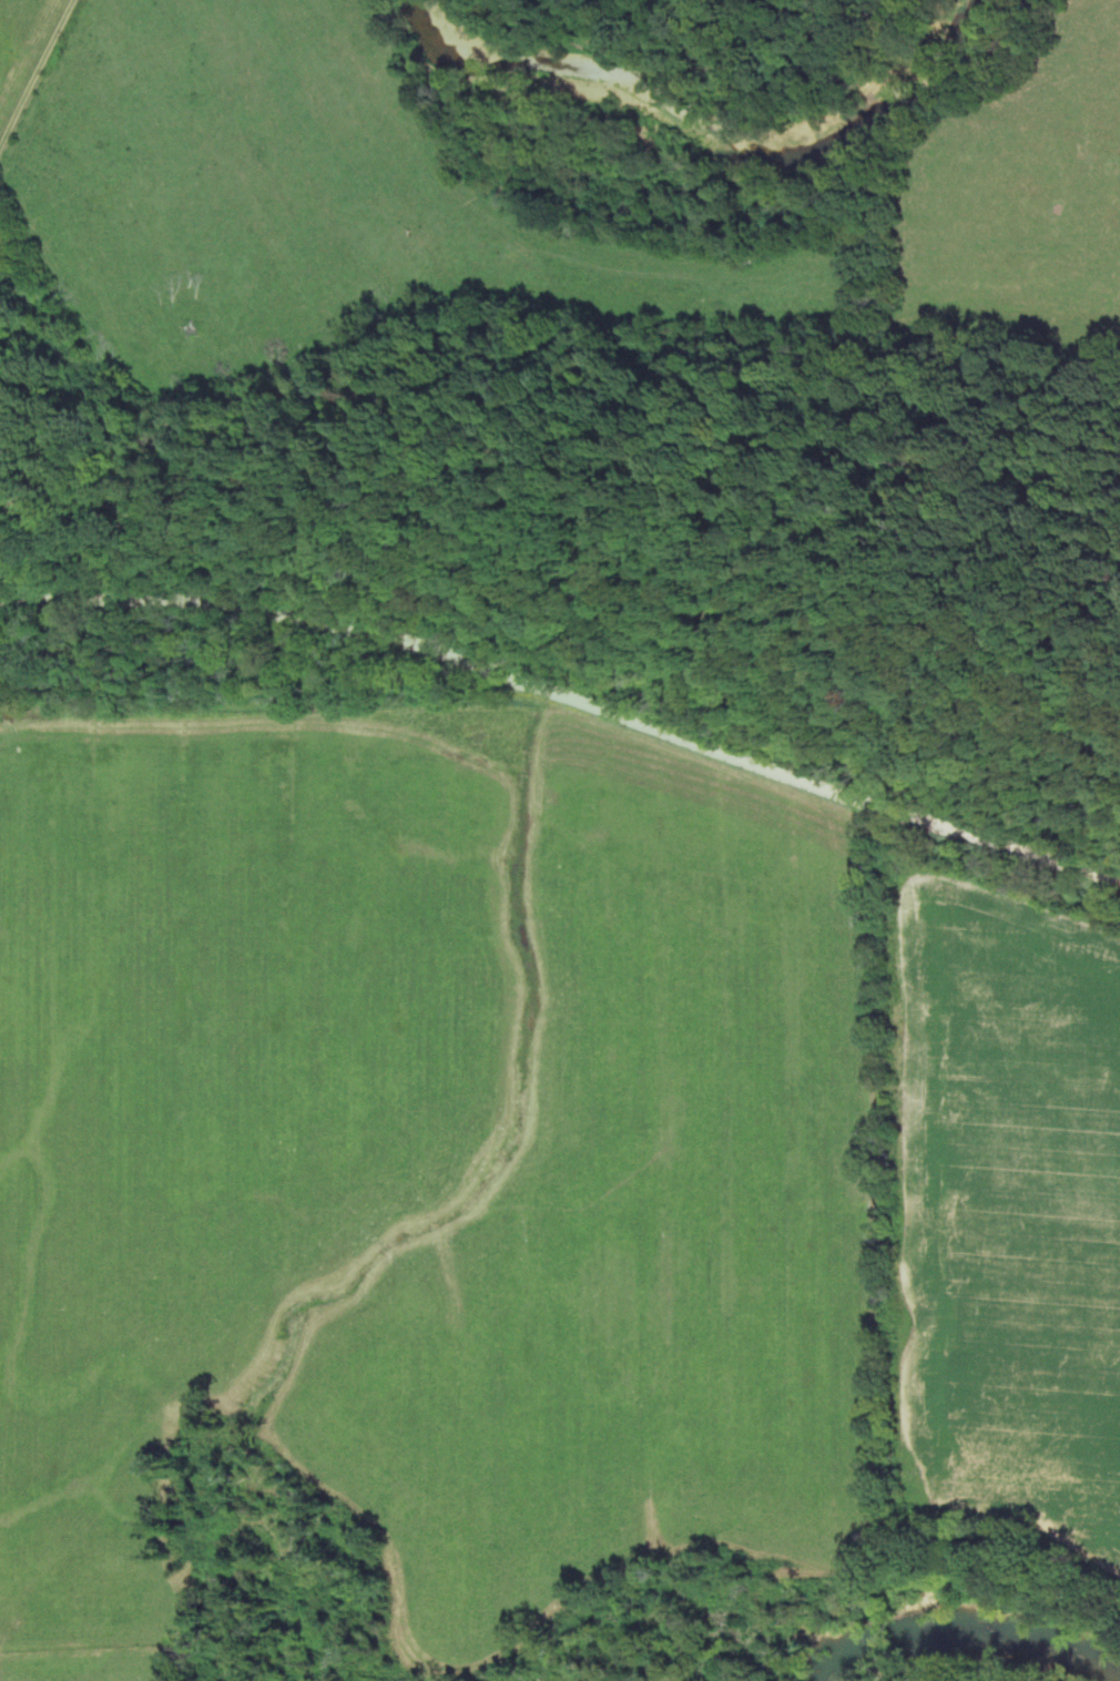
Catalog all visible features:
road: (38, 79)
road: (135, 409)
road: (567, 700)
river: (966, 1644)

